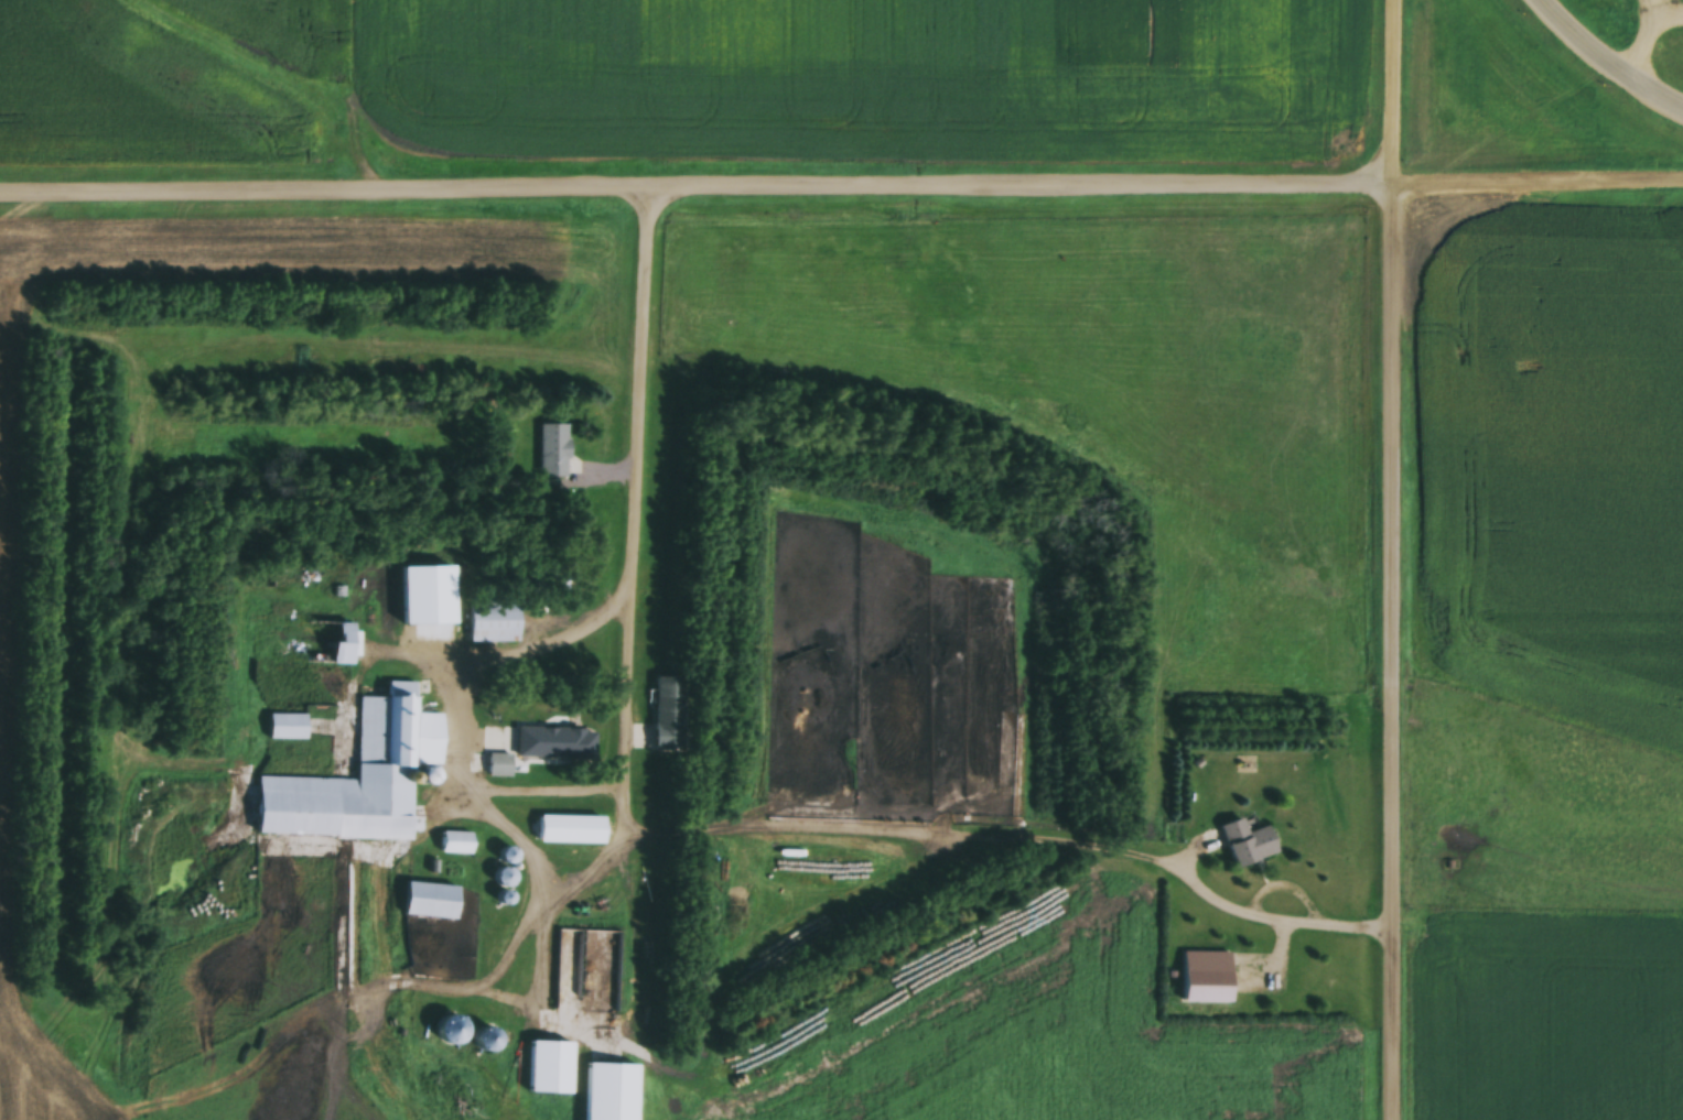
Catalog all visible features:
road: (1606, 63)
road: (841, 194)
building: (546, 457)
road: (1400, 559)
building: (550, 577)
building: (482, 630)
building: (293, 649)
building: (669, 715)
building: (277, 736)
building: (524, 752)
building: (353, 780)
building: (560, 834)
building: (446, 846)
building: (1236, 852)
building: (419, 907)
building: (589, 964)
building: (1195, 990)
building: (837, 1014)
building: (451, 1031)
building: (537, 1072)
building: (596, 1096)

